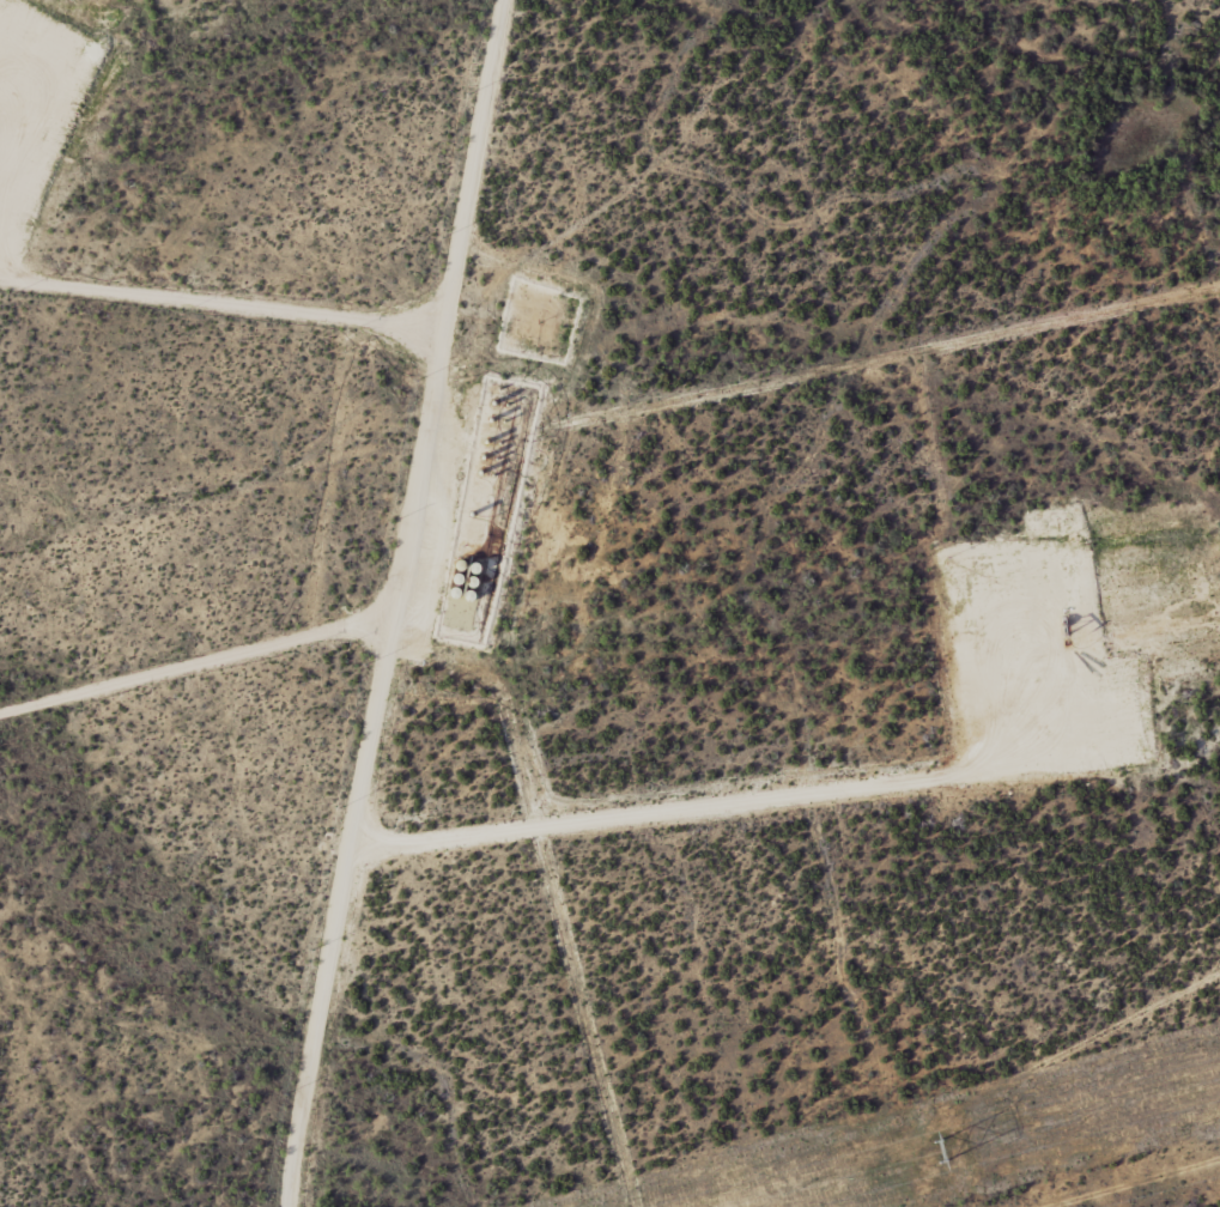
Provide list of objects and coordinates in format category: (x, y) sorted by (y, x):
power tower: (949, 1145)

